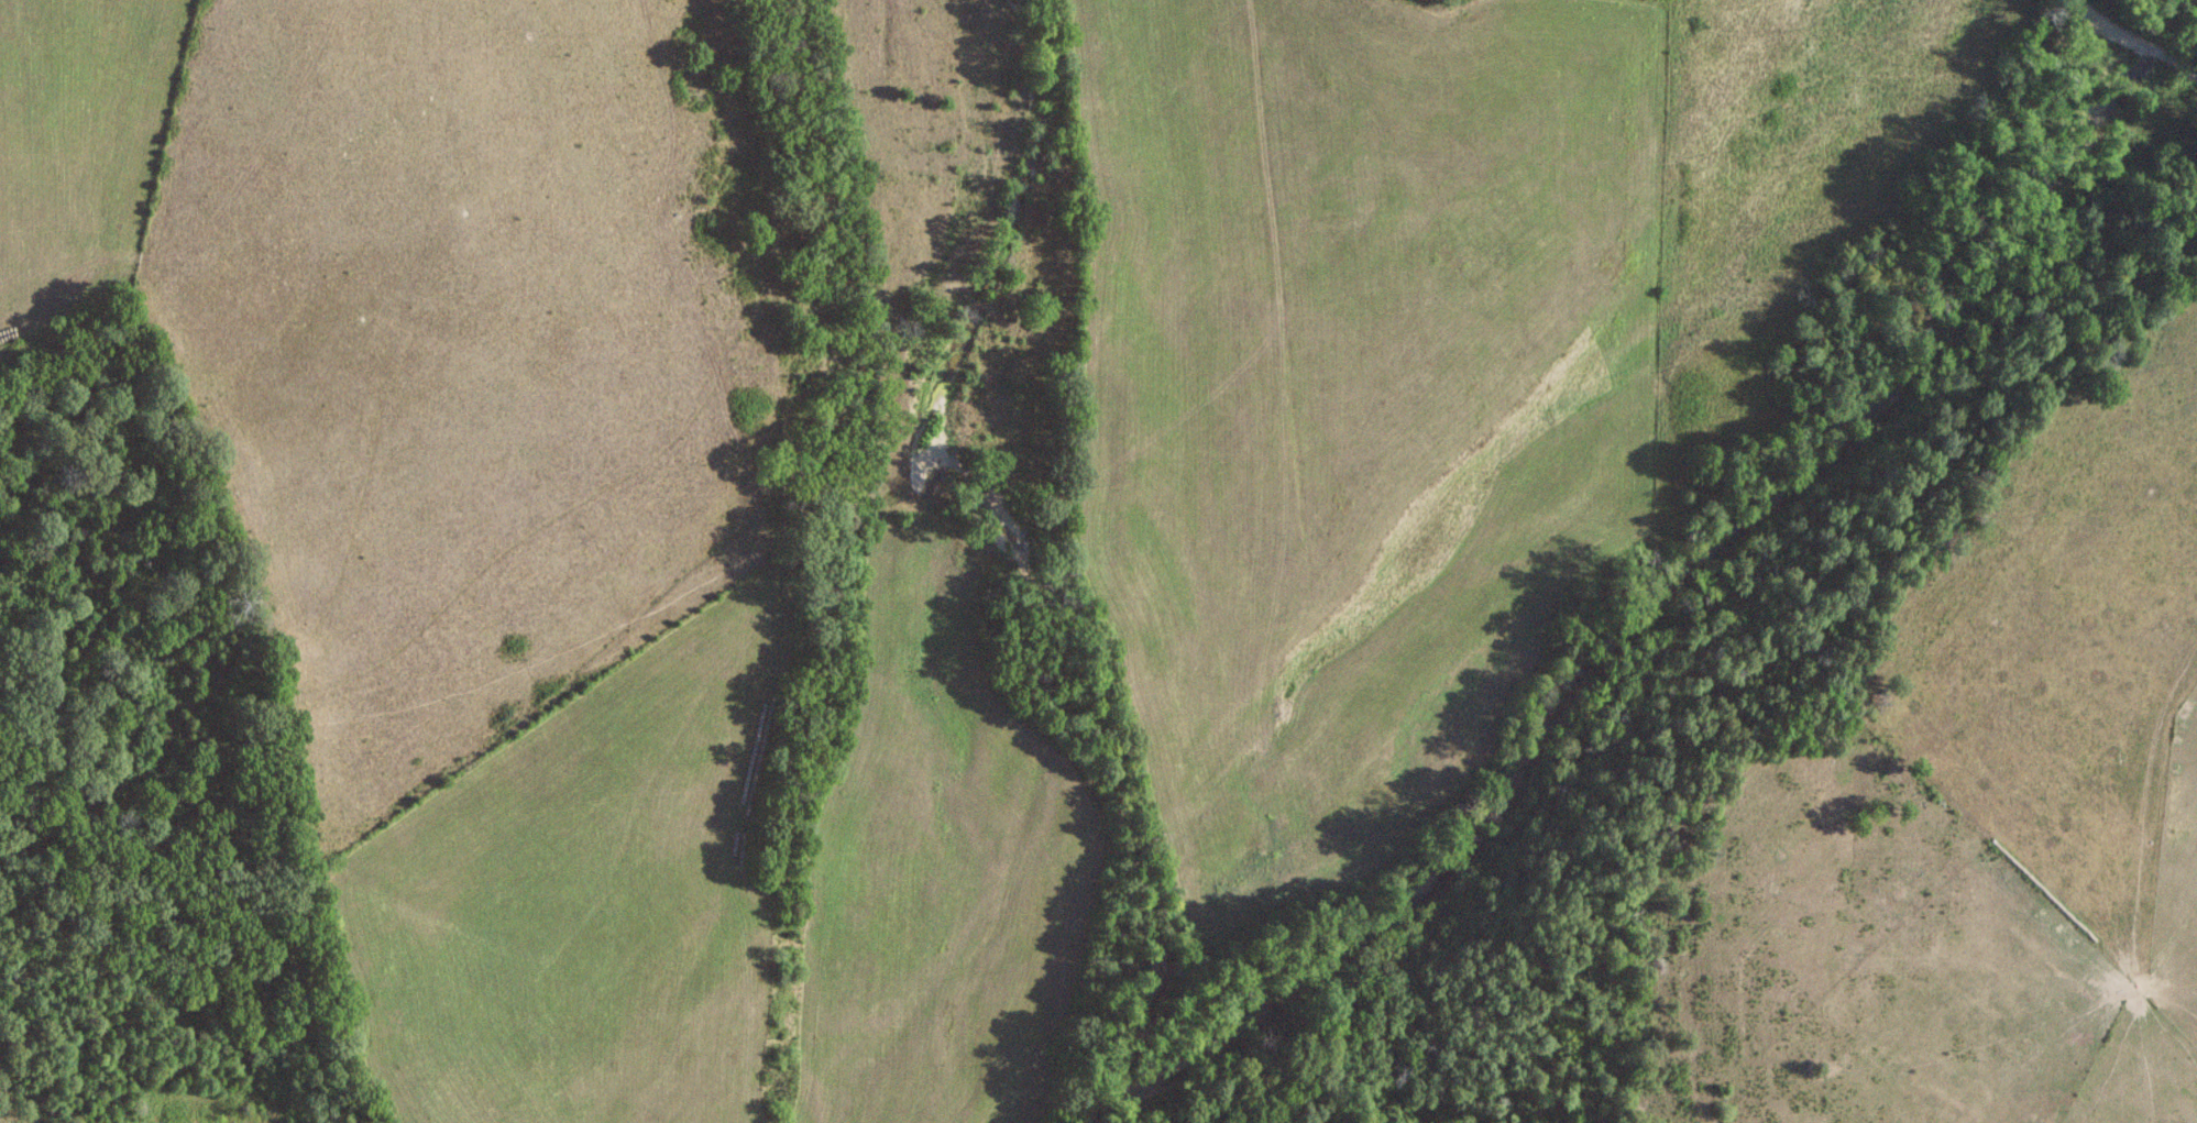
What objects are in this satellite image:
road: (2130, 38)

